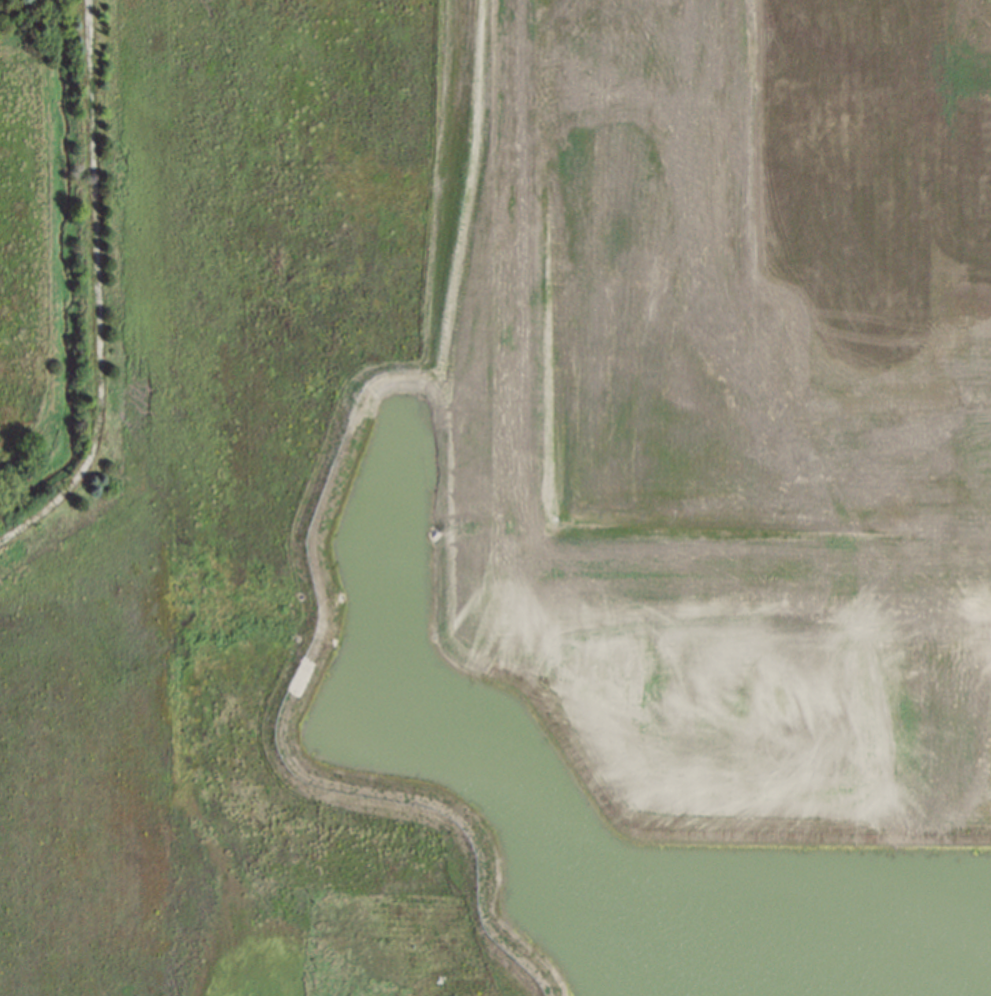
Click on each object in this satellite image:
road: (95, 289)

